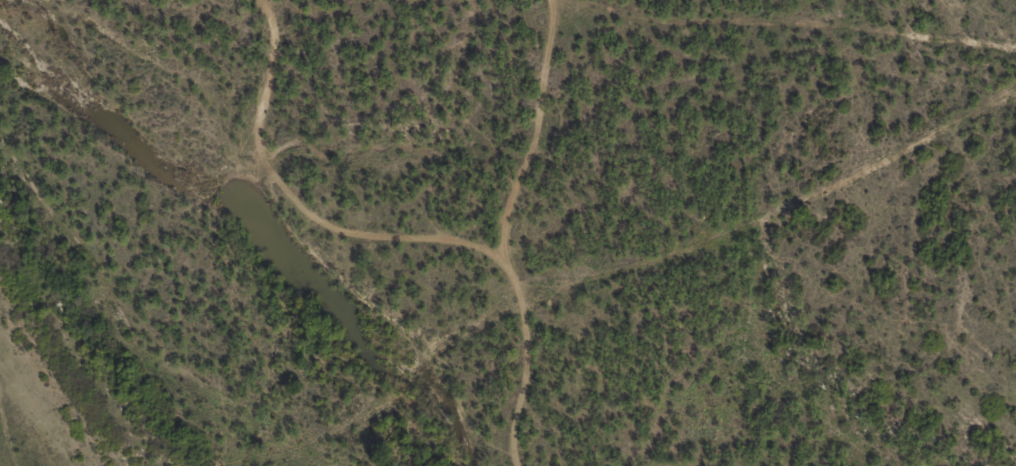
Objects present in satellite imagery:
road: (529, 233)

